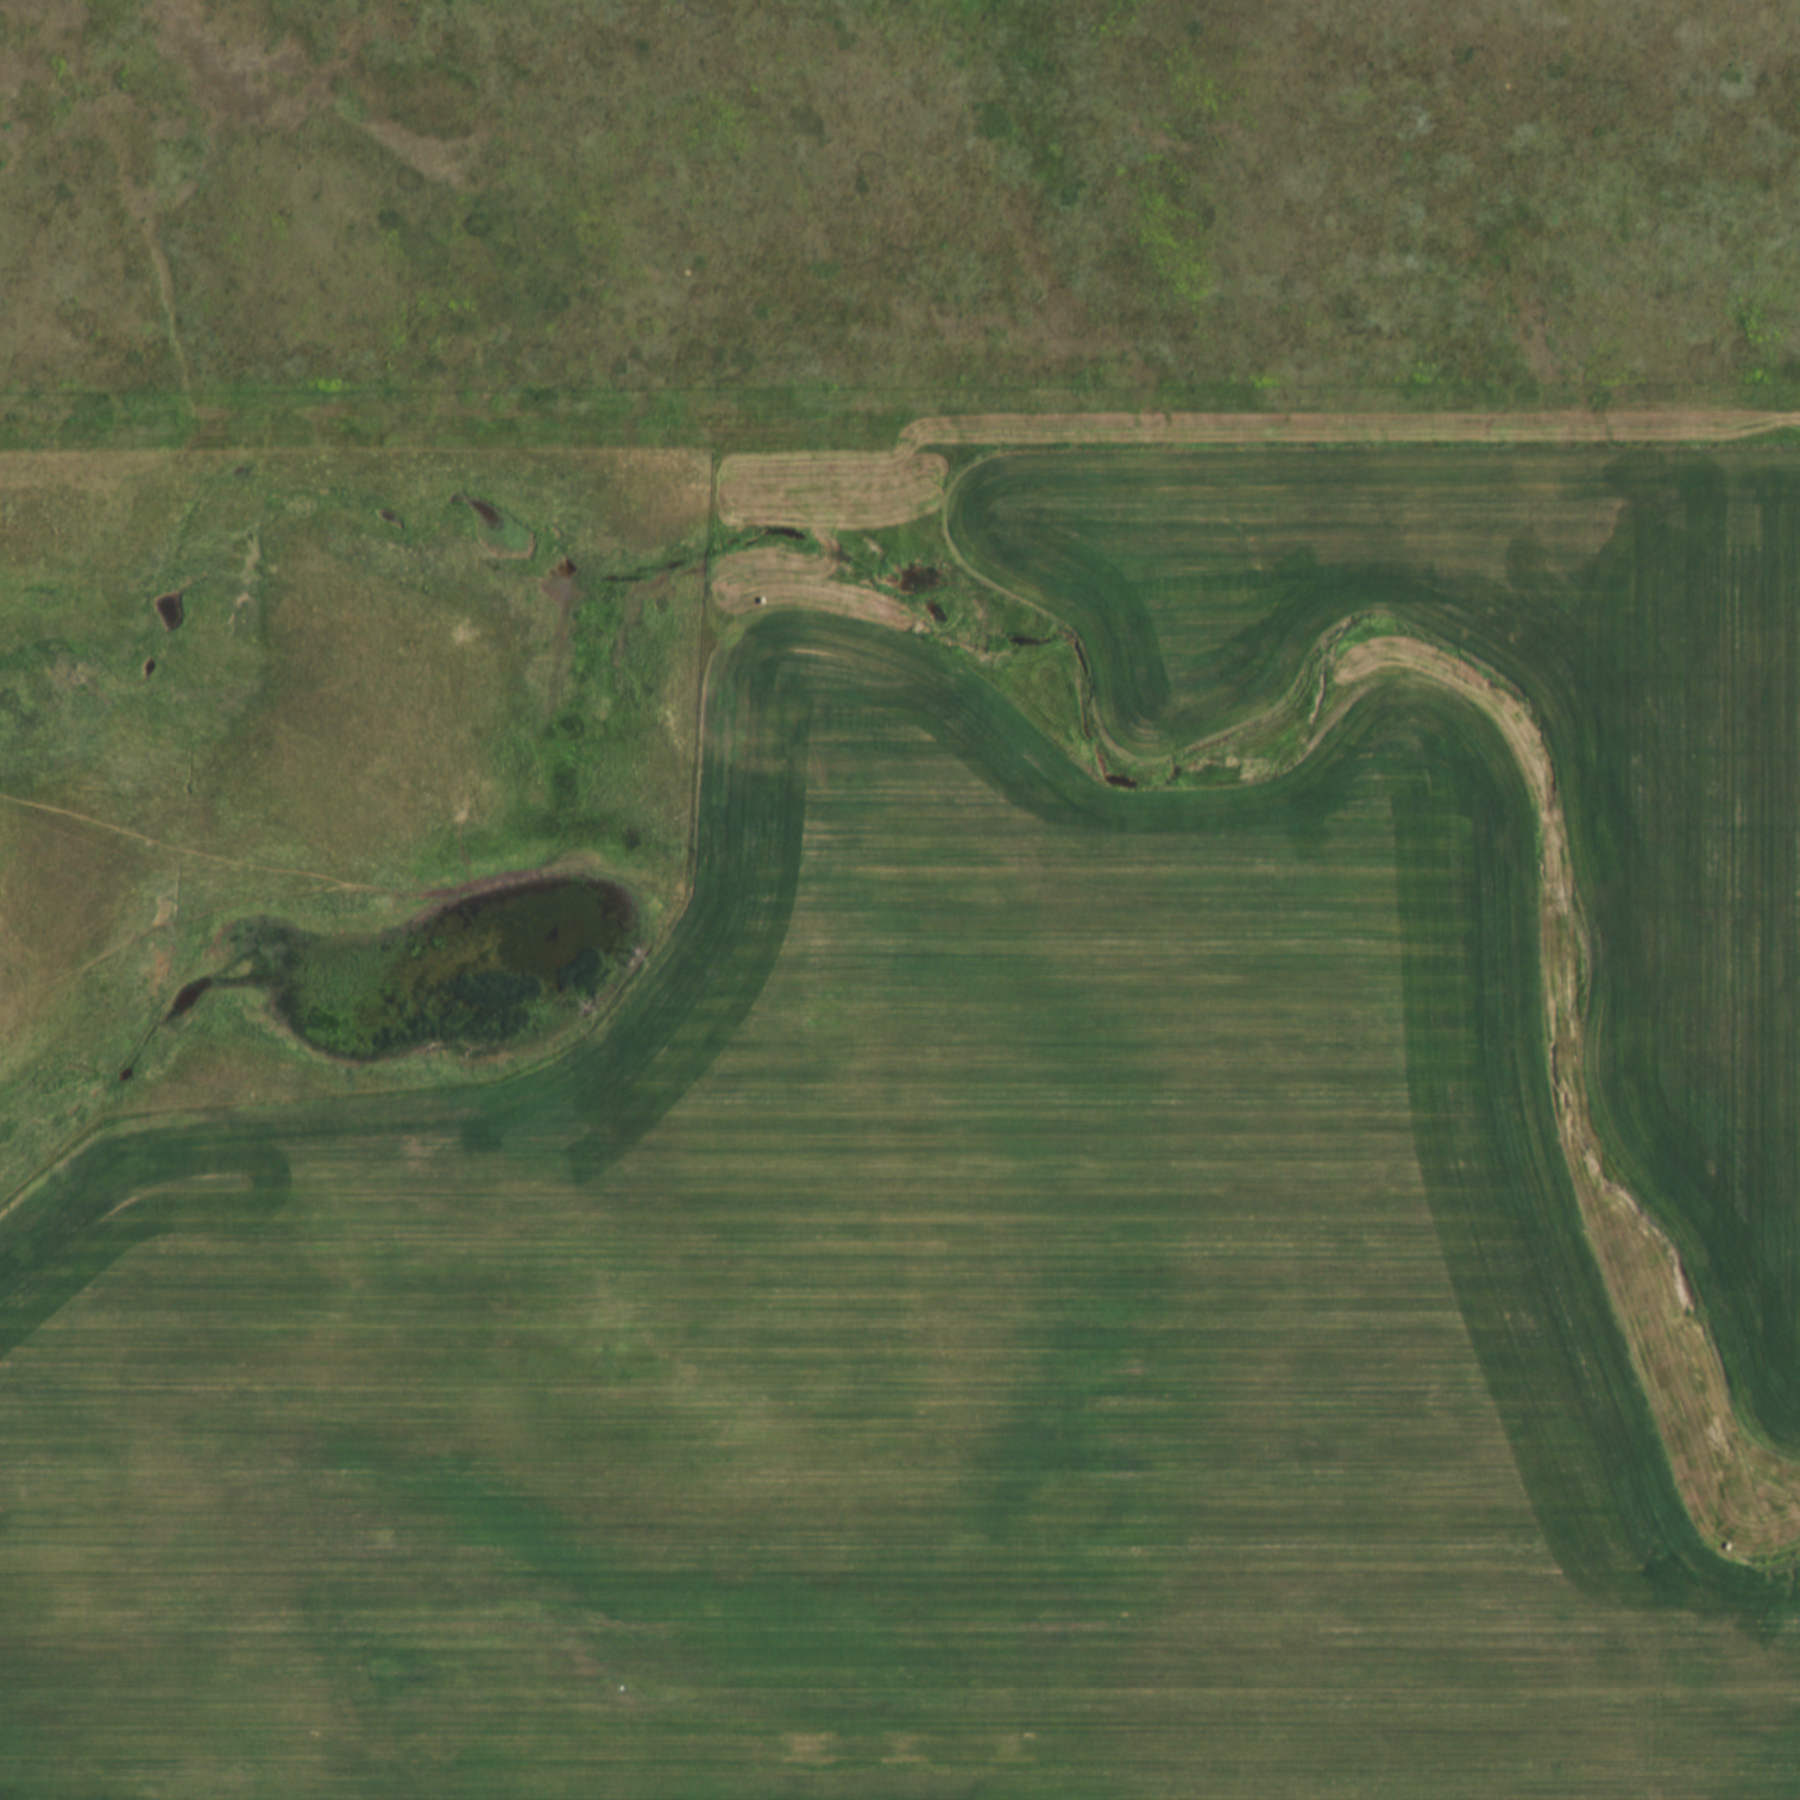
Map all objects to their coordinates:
road: (899, 407)

